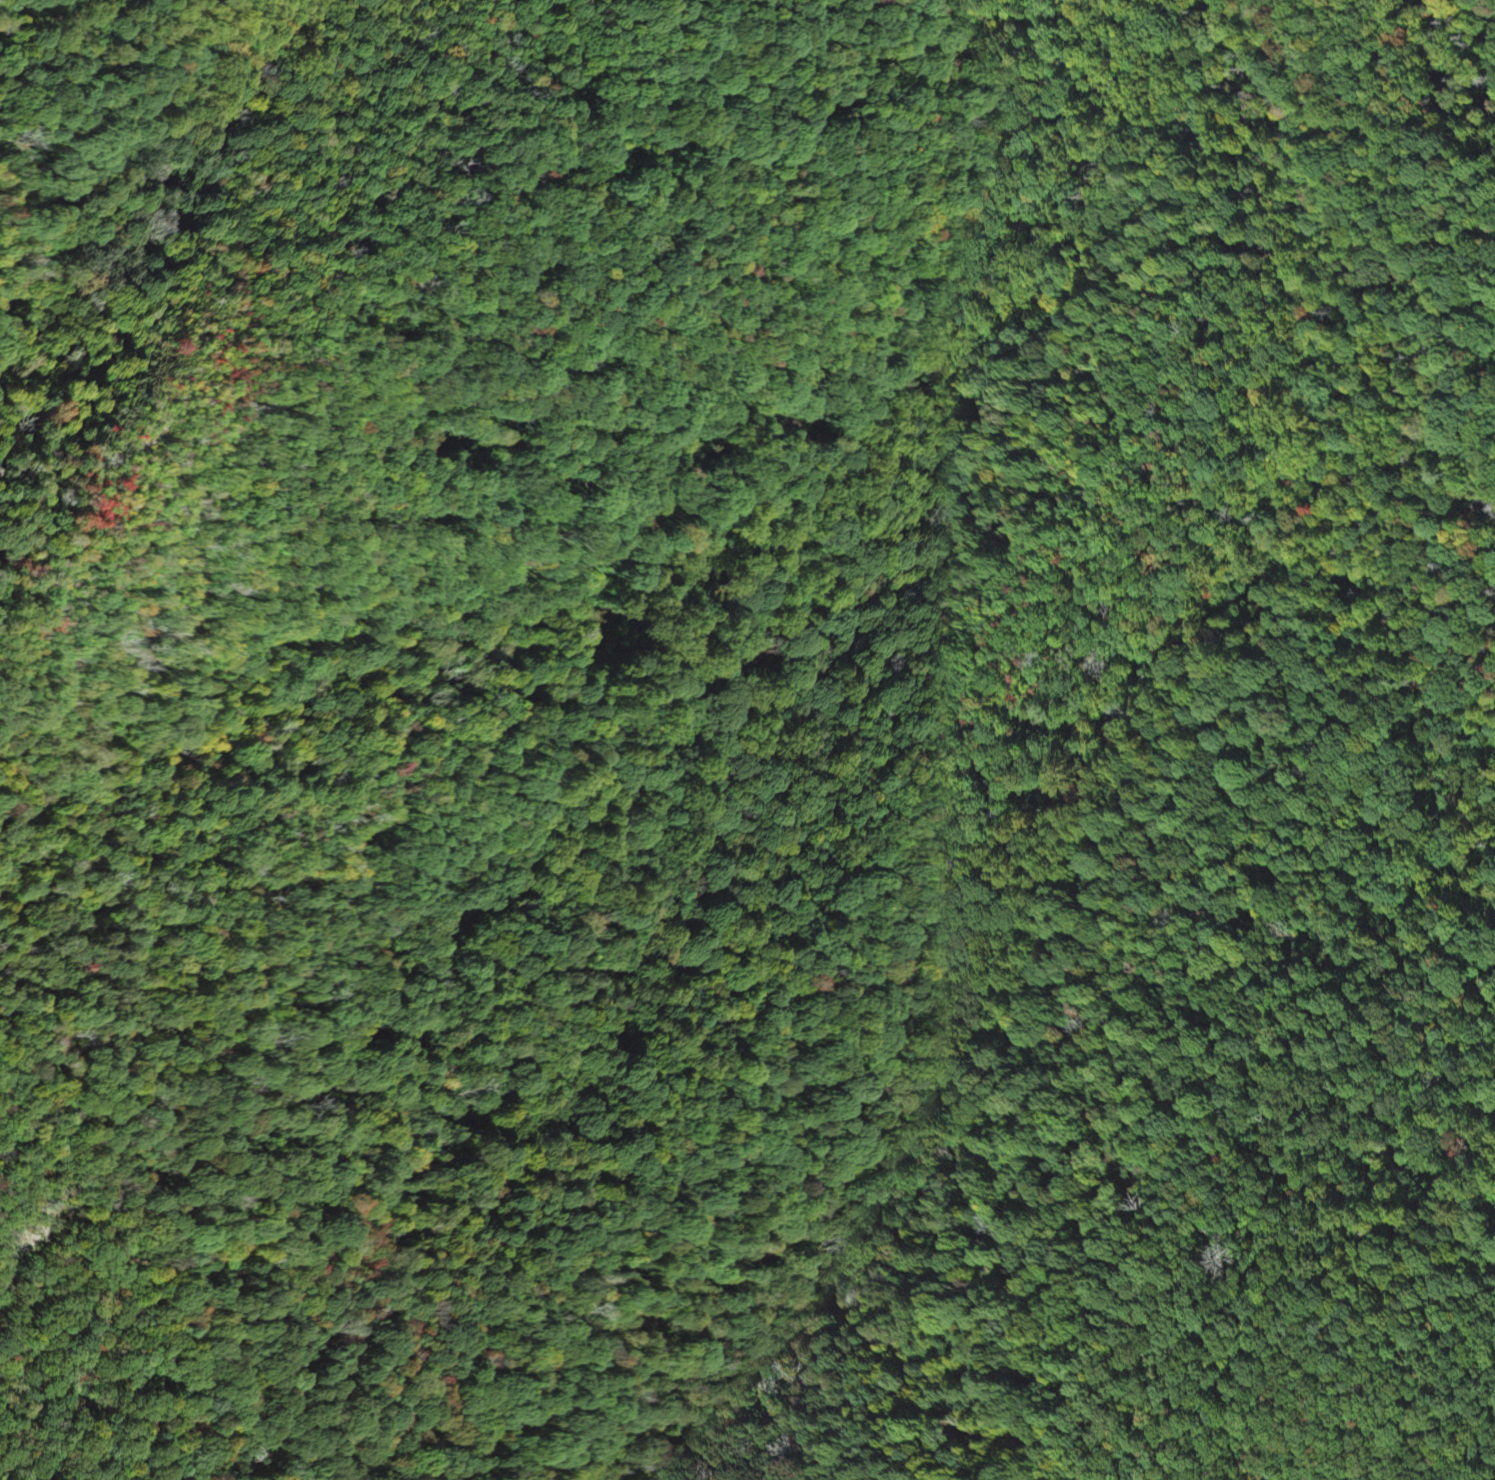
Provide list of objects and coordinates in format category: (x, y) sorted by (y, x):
road: (134, 1321)

